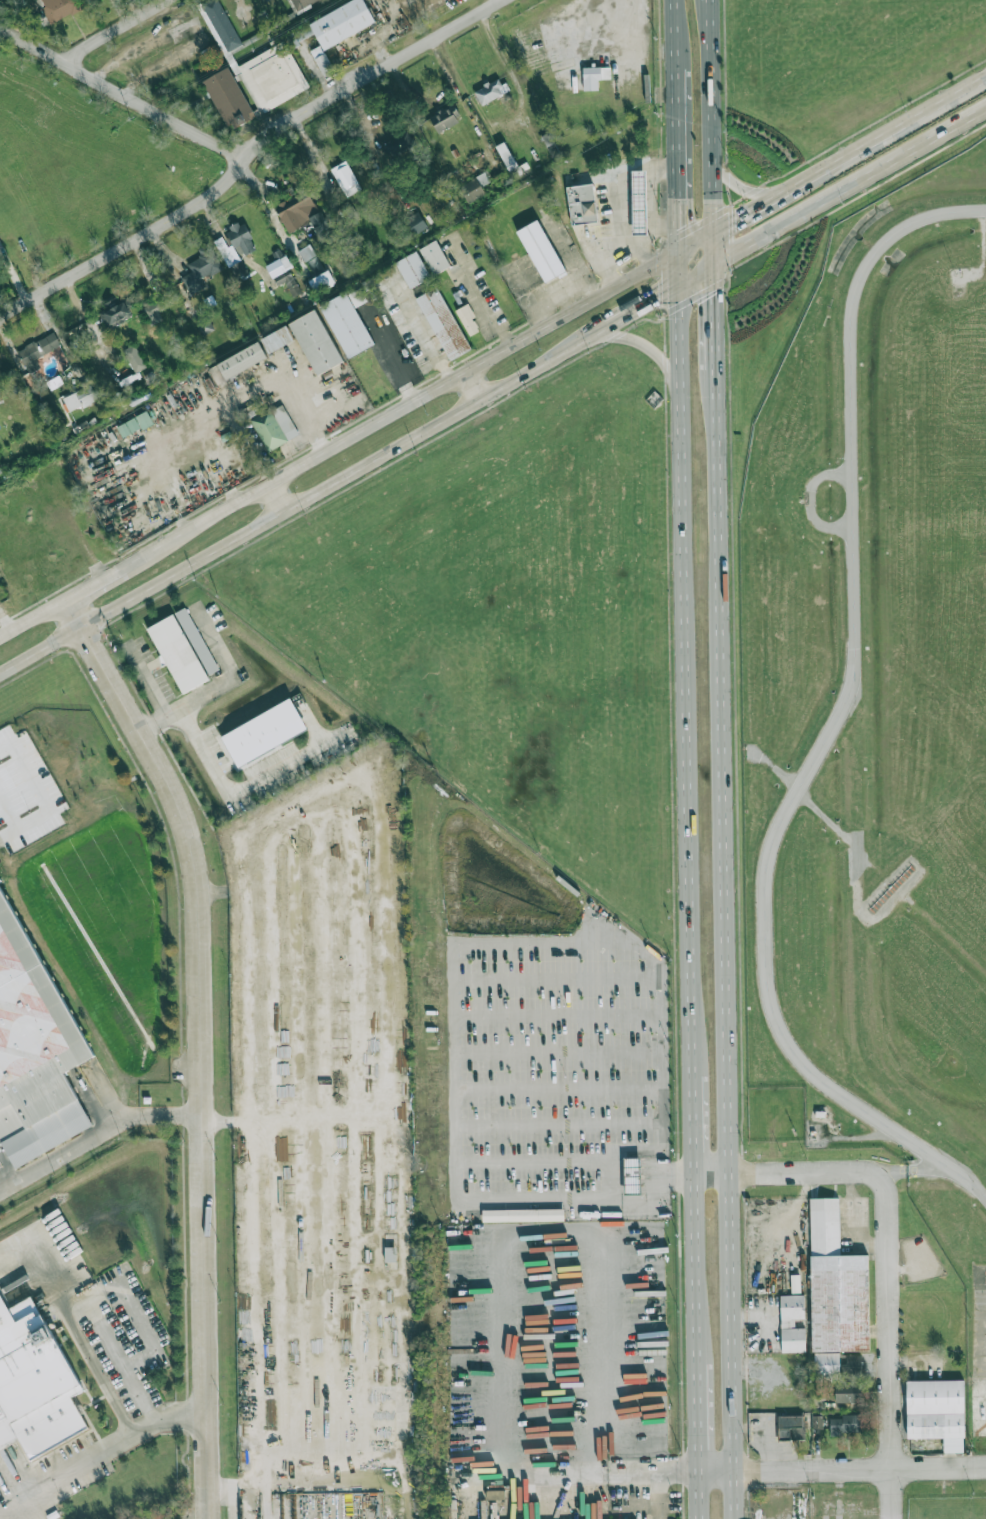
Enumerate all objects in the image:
building: (90, 1)
building: (300, 3)
building: (58, 8)
road: (704, 9)
building: (339, 22)
road: (189, 27)
road: (674, 28)
road: (118, 32)
building: (322, 61)
road: (126, 69)
building: (248, 72)
building: (594, 76)
road: (713, 83)
building: (490, 90)
road: (122, 95)
road: (940, 103)
building: (444, 118)
building: (398, 144)
road: (676, 153)
road: (250, 158)
building: (508, 159)
road: (839, 160)
building: (345, 178)
road: (713, 184)
building: (472, 189)
road: (745, 191)
road: (831, 194)
road: (617, 196)
building: (643, 204)
gas station: (643, 204)
building: (586, 206)
road: (652, 206)
road: (749, 210)
building: (300, 212)
road: (713, 215)
building: (414, 222)
traffic signals: (714, 229)
road: (652, 237)
building: (240, 238)
road: (714, 245)
building: (546, 250)
traffic signals: (678, 250)
building: (306, 252)
building: (439, 259)
road: (603, 259)
traffic signals: (715, 261)
building: (201, 268)
road: (678, 268)
building: (238, 269)
building: (418, 272)
building: (320, 279)
building: (287, 281)
traffic signals: (679, 286)
road: (643, 307)
building: (154, 309)
road: (481, 310)
building: (117, 313)
road: (717, 315)
building: (472, 321)
building: (352, 323)
building: (447, 325)
building: (282, 343)
building: (320, 345)
road: (643, 347)
building: (37, 351)
building: (133, 358)
building: (246, 364)
road: (473, 387)
building: (1, 391)
building: (79, 398)
building: (137, 422)
building: (272, 431)
road: (357, 436)
building: (0, 471)
road: (276, 499)
road: (302, 500)
road: (810, 501)
building: (196, 640)
building: (177, 653)
road: (686, 674)
road: (145, 680)
road: (225, 685)
airport: (877, 715)
road: (834, 719)
building: (263, 732)
road: (239, 789)
road: (734, 943)
road: (447, 951)
building: (34, 1030)
road: (202, 1044)
road: (695, 1117)
road: (292, 1118)
road: (97, 1140)
road: (928, 1169)
road: (819, 1171)
road: (726, 1172)
building: (632, 1175)
road: (892, 1175)
building: (522, 1214)
road: (696, 1265)
building: (835, 1293)
road: (500, 1294)
road: (65, 1302)
building: (792, 1323)
road: (148, 1332)
road: (110, 1345)
road: (889, 1348)
building: (850, 1366)
road: (98, 1368)
building: (35, 1381)
building: (848, 1393)
road: (697, 1415)
building: (936, 1418)
building: (817, 1422)
building: (845, 1424)
building: (791, 1428)
road: (101, 1450)
road: (873, 1470)
road: (729, 1473)
road: (698, 1496)
road: (670, 1501)

